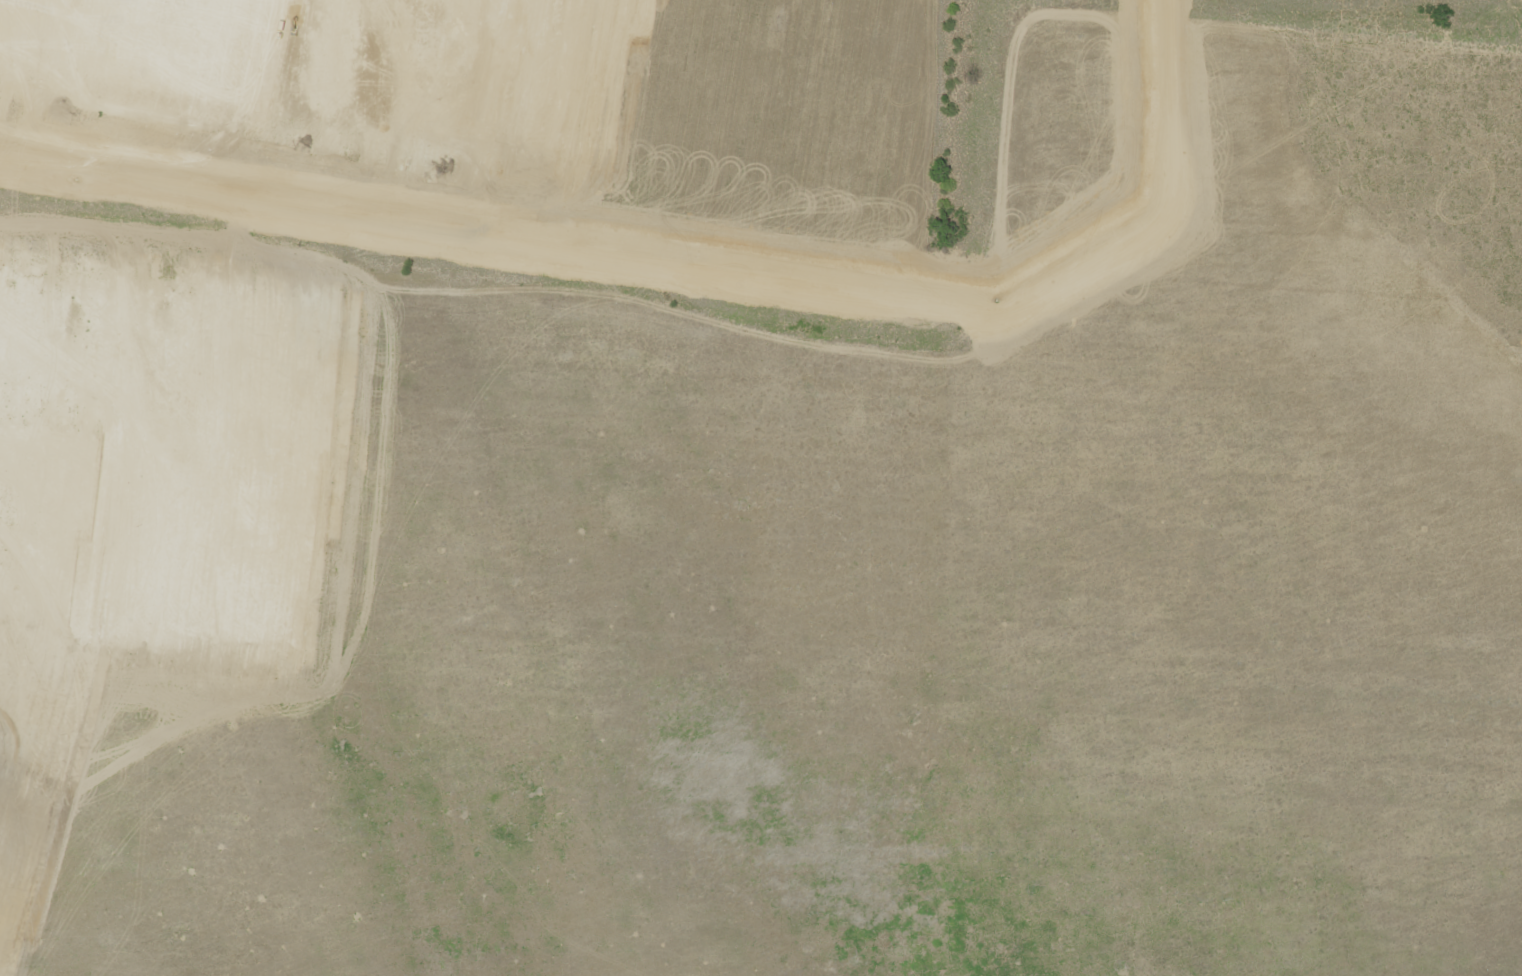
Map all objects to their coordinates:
road: (966, 66)
road: (140, 153)

